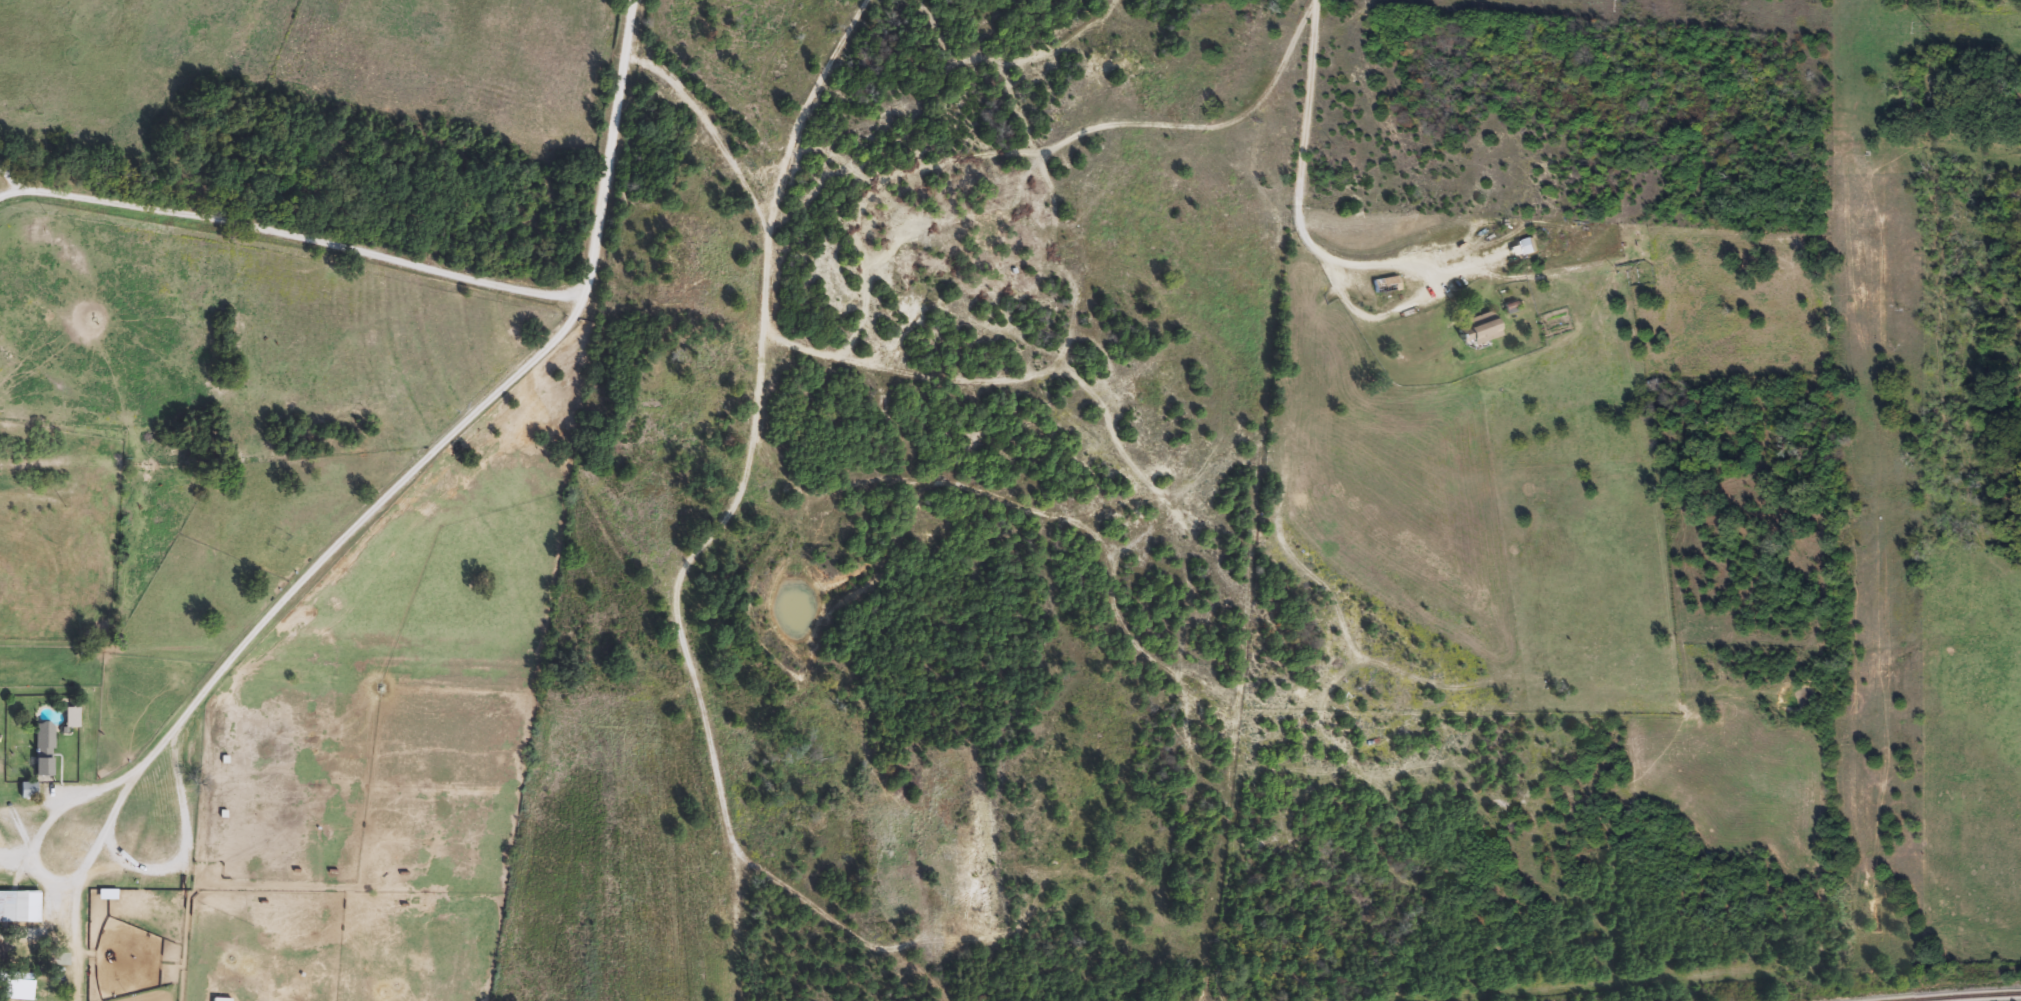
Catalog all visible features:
power tower: (1596, 6)
power tower: (1899, 29)
road: (1302, 128)
road: (607, 149)
road: (6, 181)
road: (856, 229)
road: (292, 232)
building: (1384, 286)
building: (1477, 329)
road: (325, 561)
building: (42, 749)
building: (27, 790)
road: (164, 867)
road: (42, 868)
building: (19, 907)
building: (17, 993)
railway: (1978, 997)
building: (221, 1000)

